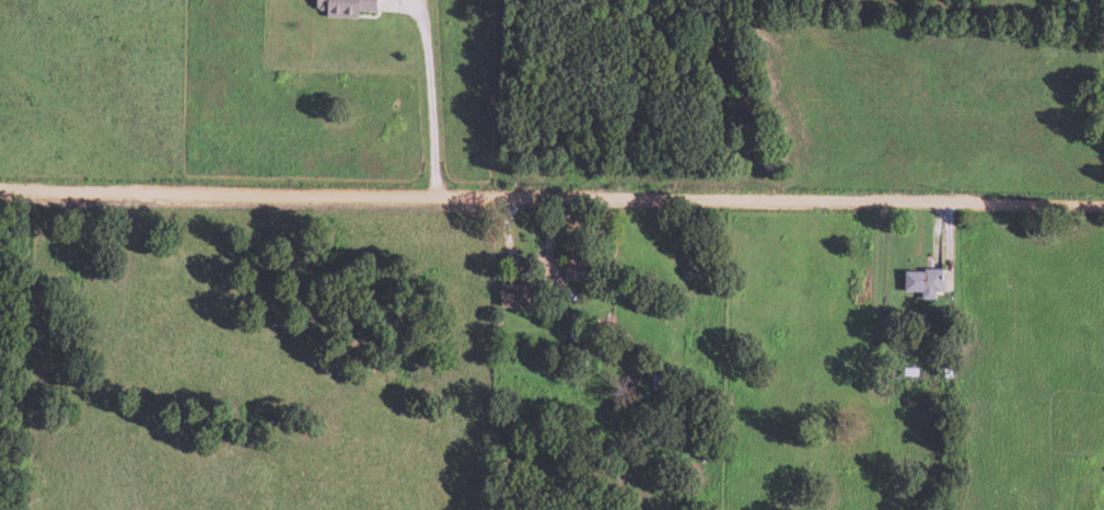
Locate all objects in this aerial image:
building: (340, 8)
road: (427, 91)
road: (551, 196)
building: (920, 283)
building: (511, 295)

